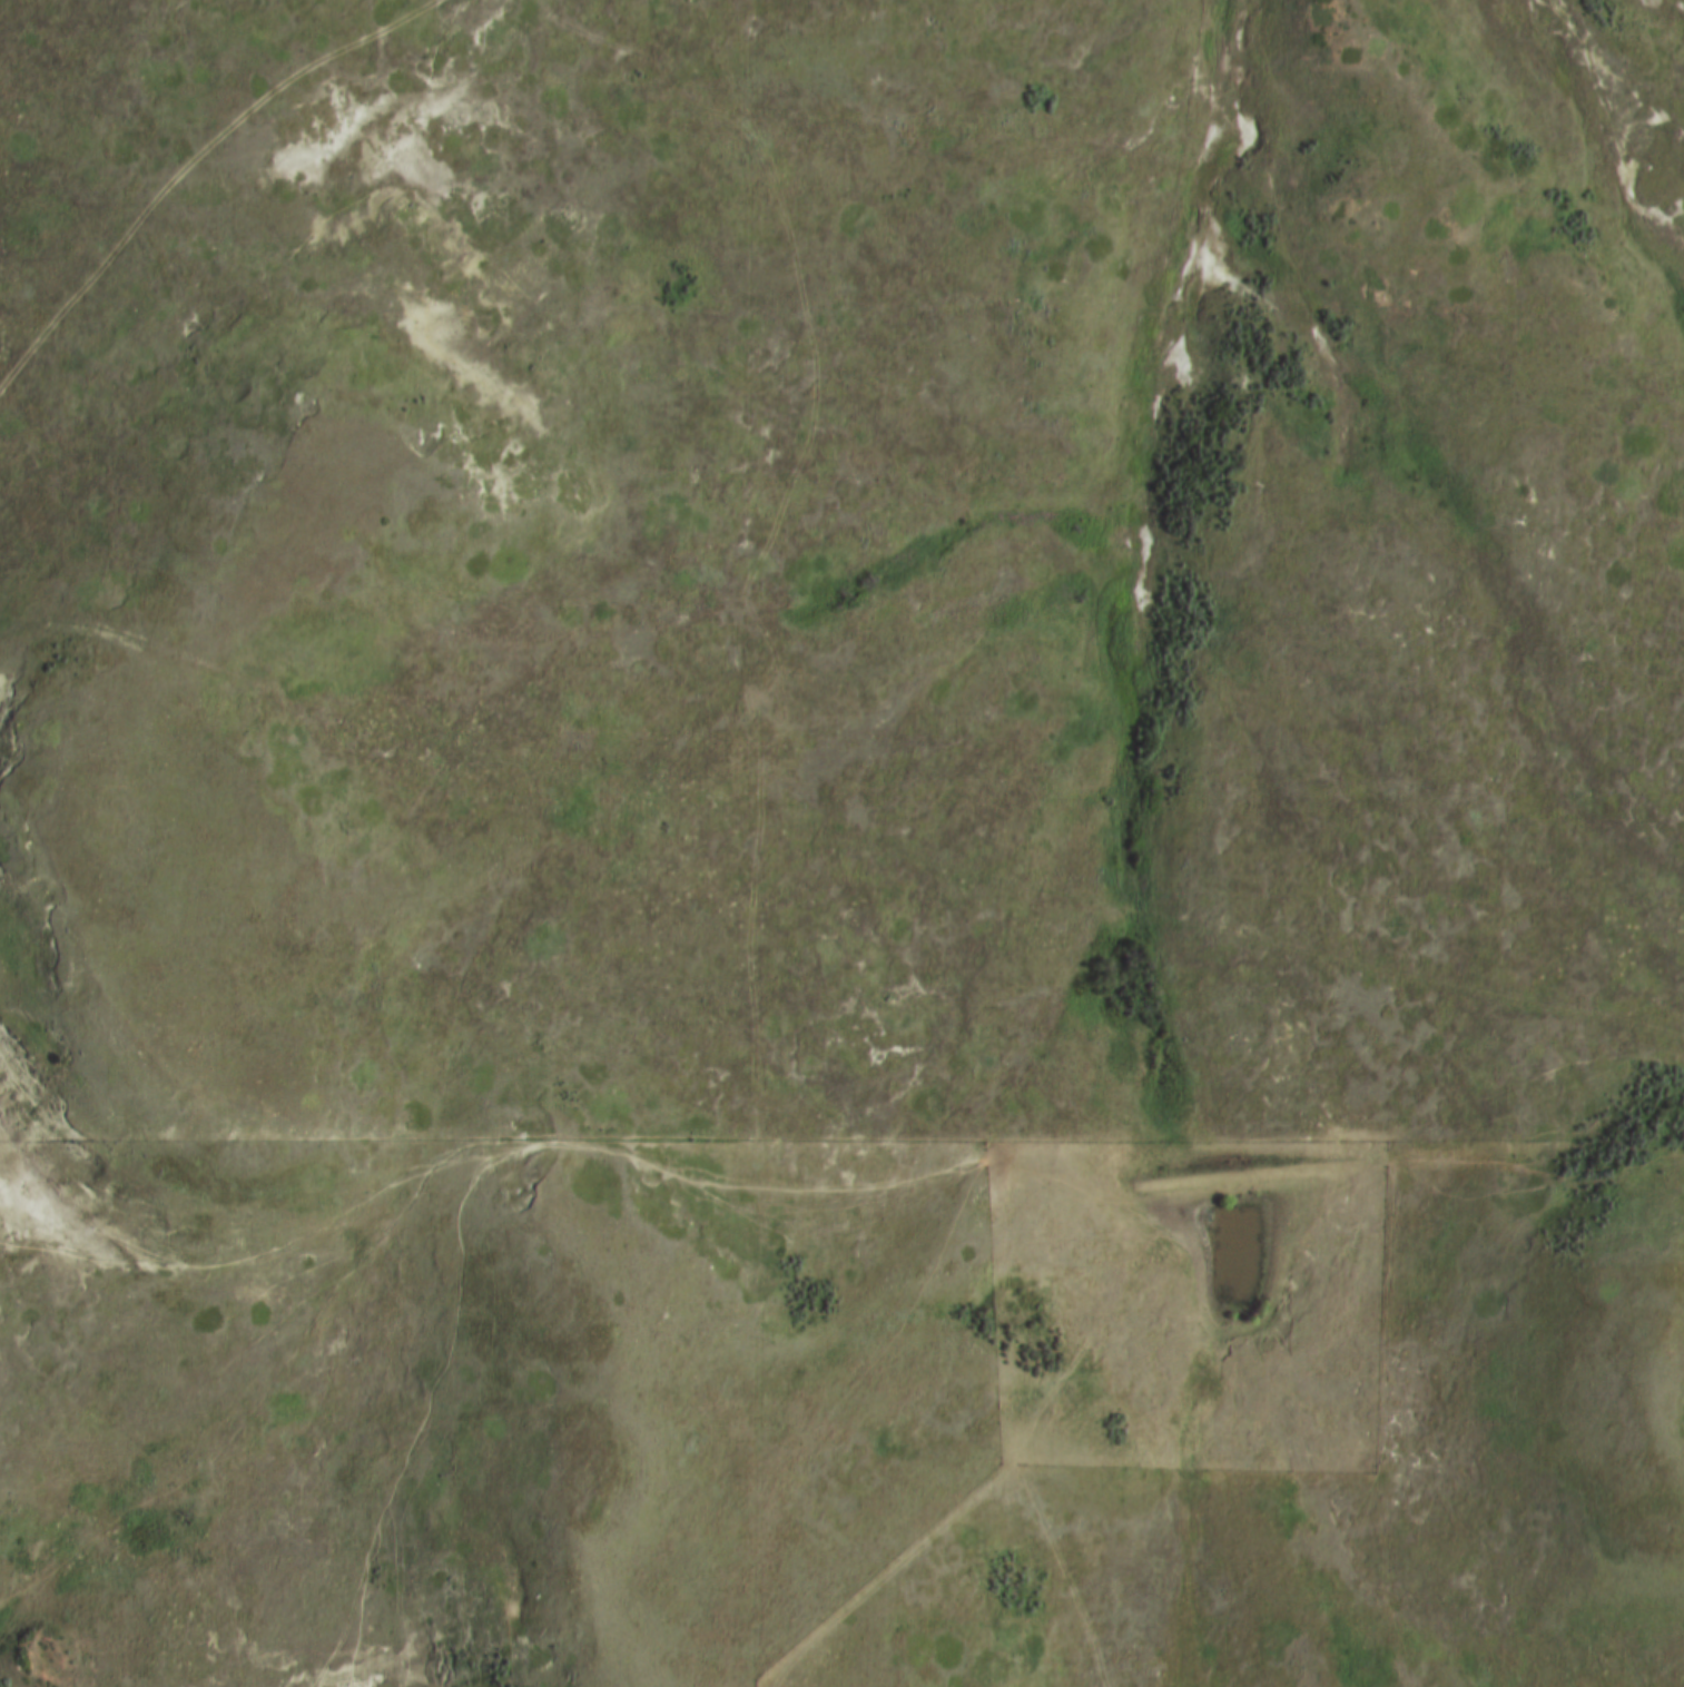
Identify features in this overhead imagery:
road: (390, 1236)

